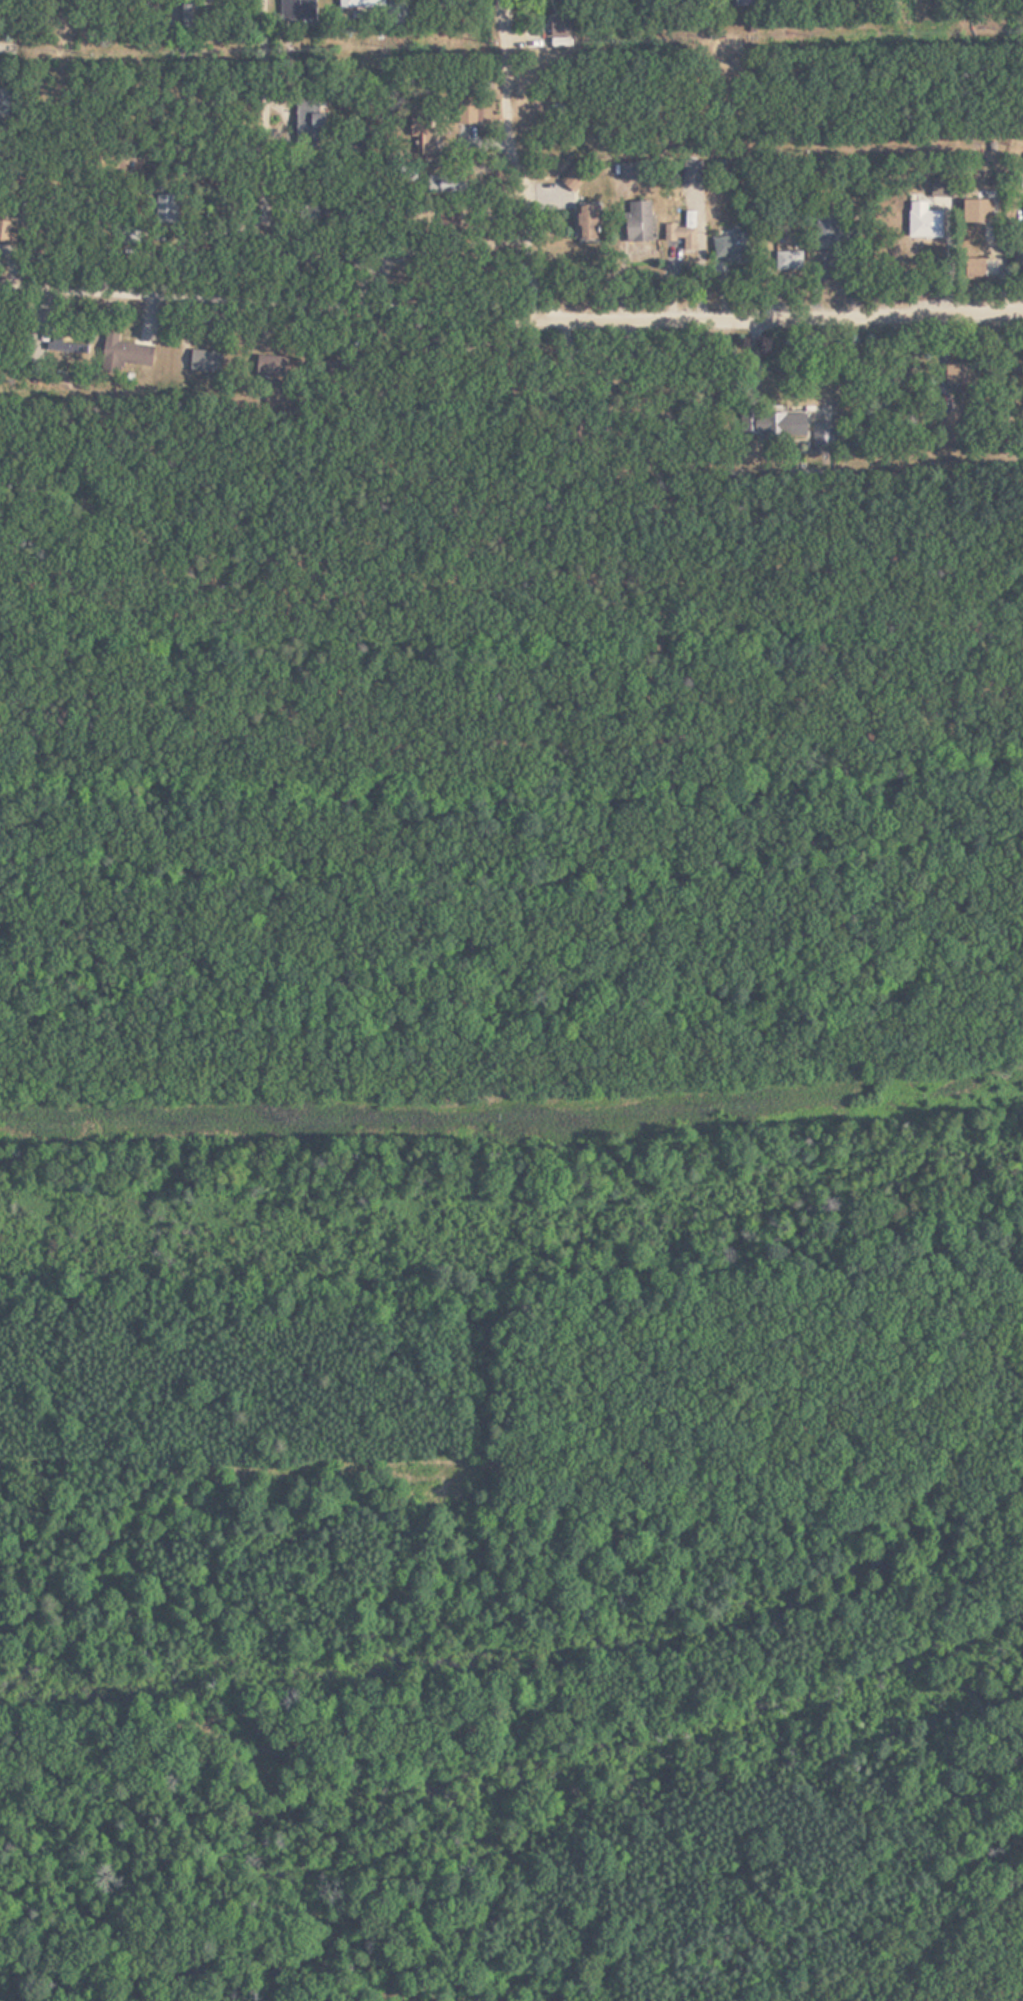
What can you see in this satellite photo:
building: (745, 3)
building: (362, 4)
building: (300, 9)
building: (559, 26)
building: (4, 104)
road: (278, 111)
building: (466, 113)
building: (317, 125)
road: (756, 164)
building: (1022, 164)
building: (628, 172)
building: (693, 172)
building: (572, 180)
building: (448, 188)
building: (976, 211)
building: (638, 221)
building: (923, 221)
building: (585, 223)
road: (543, 228)
building: (682, 230)
building: (828, 232)
building: (731, 246)
building: (782, 254)
building: (974, 268)
road: (273, 282)
road: (791, 301)
building: (124, 353)
building: (205, 363)
building: (268, 365)
building: (960, 375)
building: (784, 426)
building: (949, 429)
building: (822, 435)
road: (524, 844)
road: (1011, 1993)

